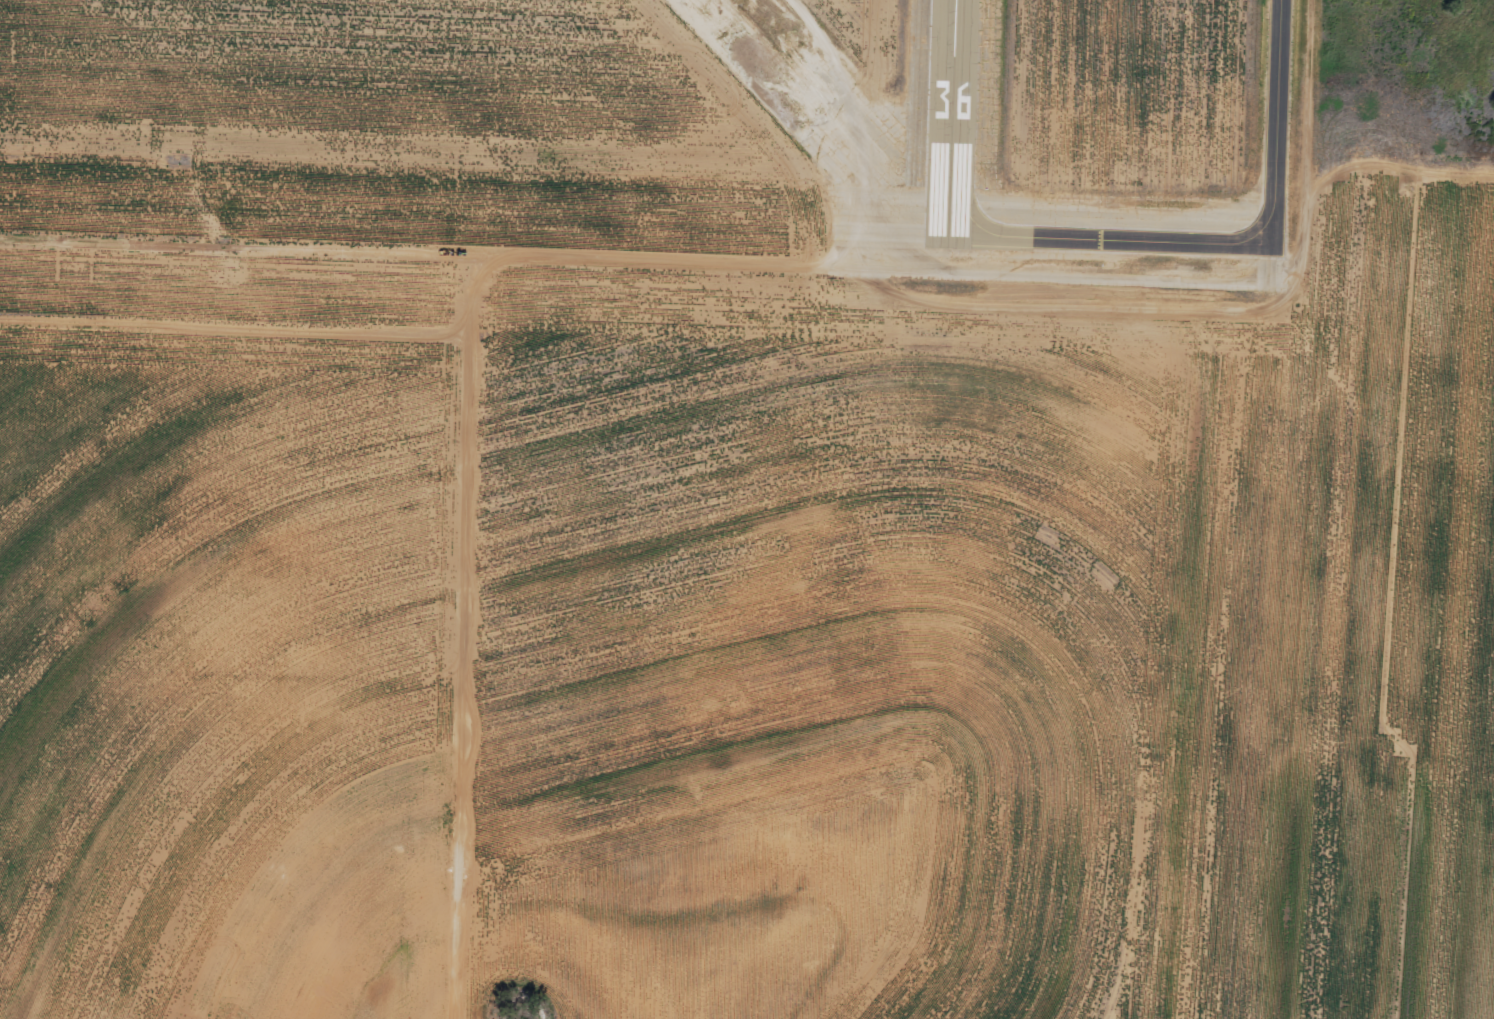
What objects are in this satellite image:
airport runway: (954, 126)
airport taxiway: (1279, 134)
airport: (764, 167)
airport taxiway: (1113, 260)

